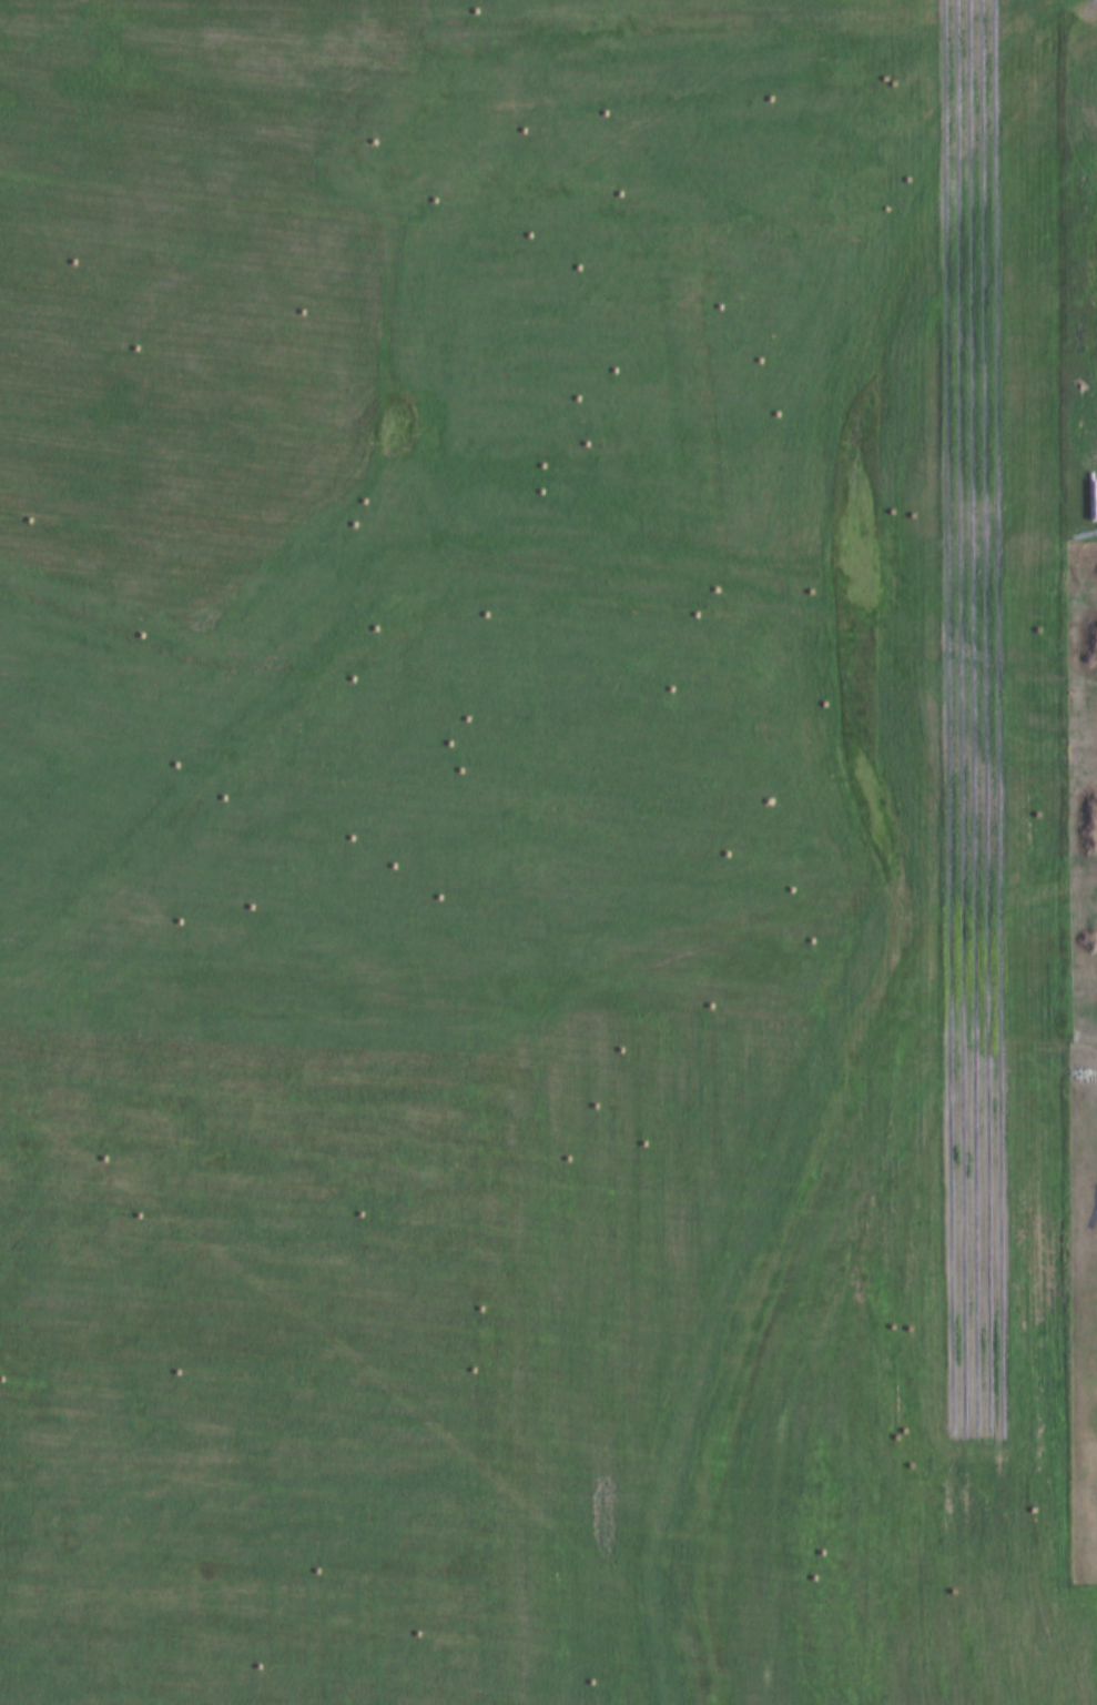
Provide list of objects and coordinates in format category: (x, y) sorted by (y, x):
quarry: (284, 387)

